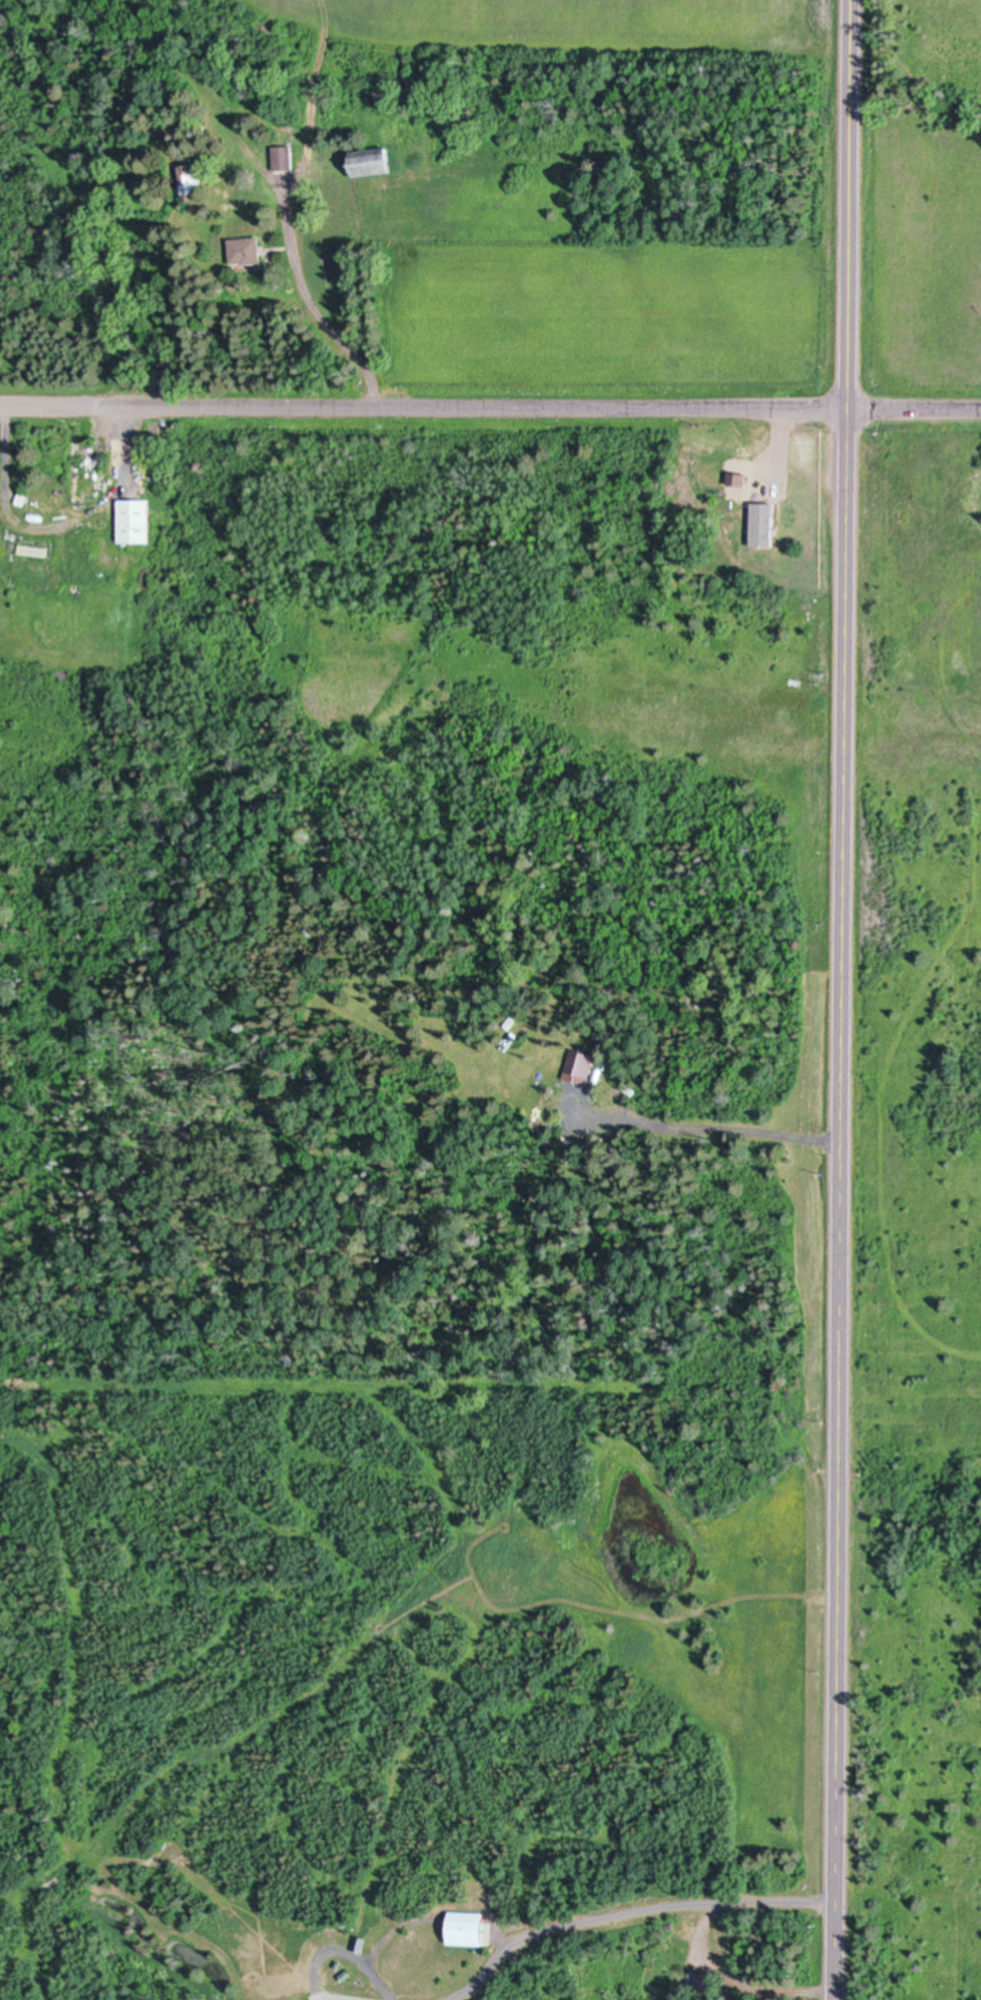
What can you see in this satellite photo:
building: (281, 158)
building: (370, 162)
building: (191, 183)
building: (244, 252)
road: (314, 311)
road: (423, 409)
road: (914, 411)
building: (20, 498)
building: (43, 499)
building: (133, 520)
building: (754, 520)
road: (55, 527)
building: (32, 550)
road: (841, 999)
building: (464, 1009)
building: (578, 1064)
road: (712, 1130)
road: (626, 1913)
building: (466, 1926)
road: (360, 1967)
road: (733, 1981)
building: (703, 1982)
road: (316, 1988)

